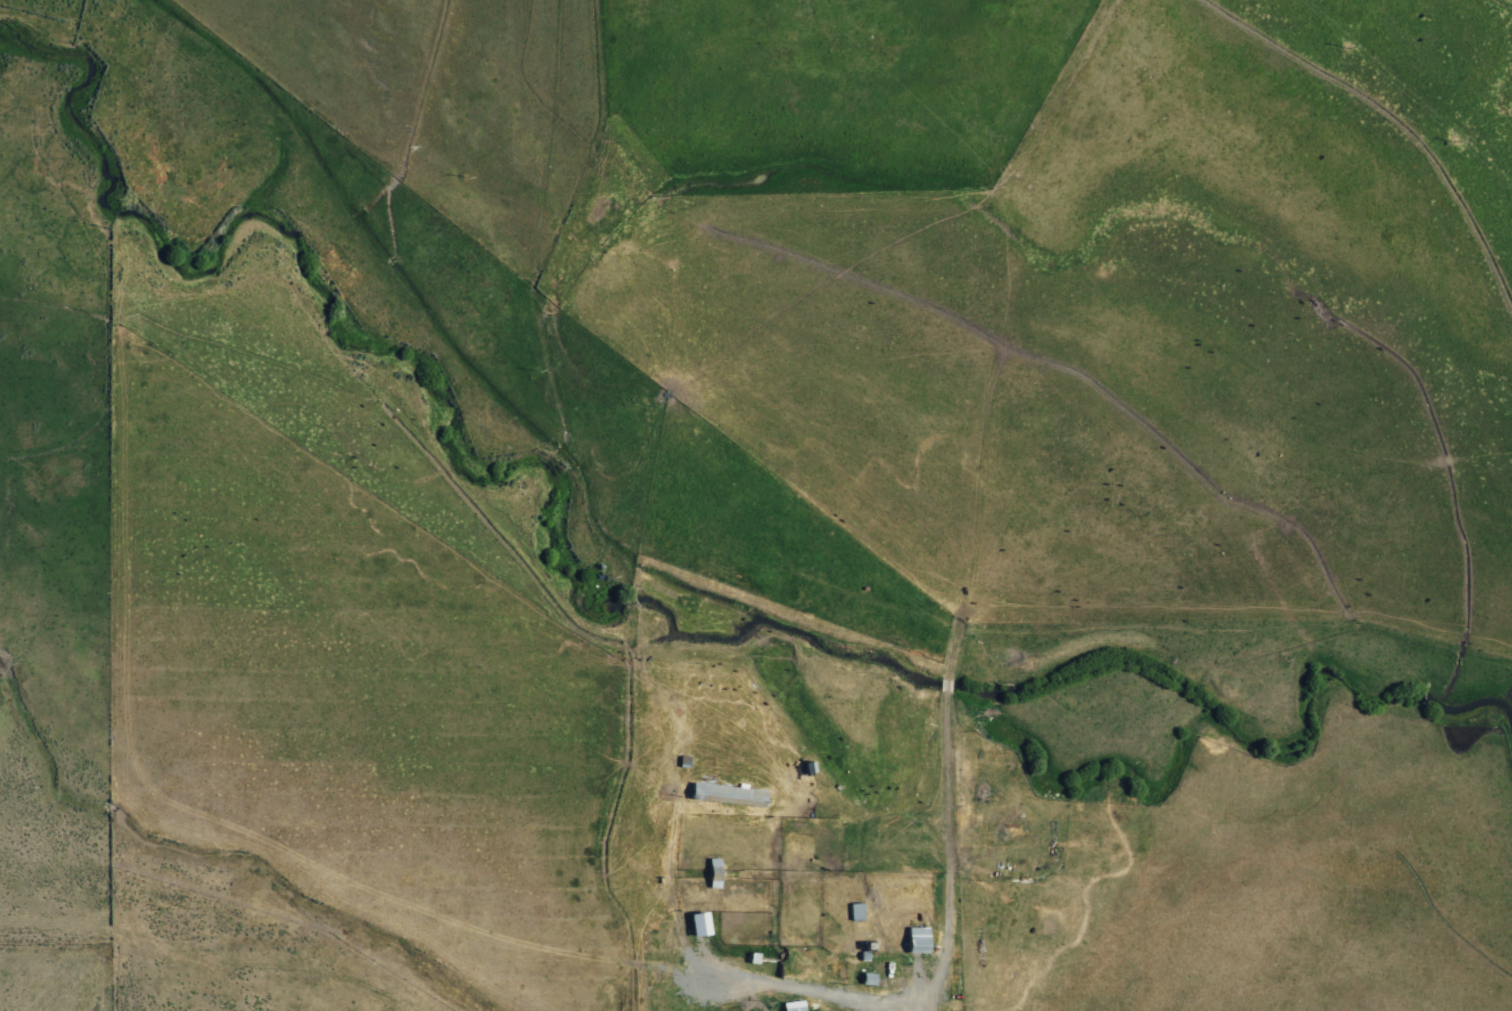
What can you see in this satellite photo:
crop: (107, 746)
building: (701, 921)
road: (776, 980)
building: (795, 1005)

